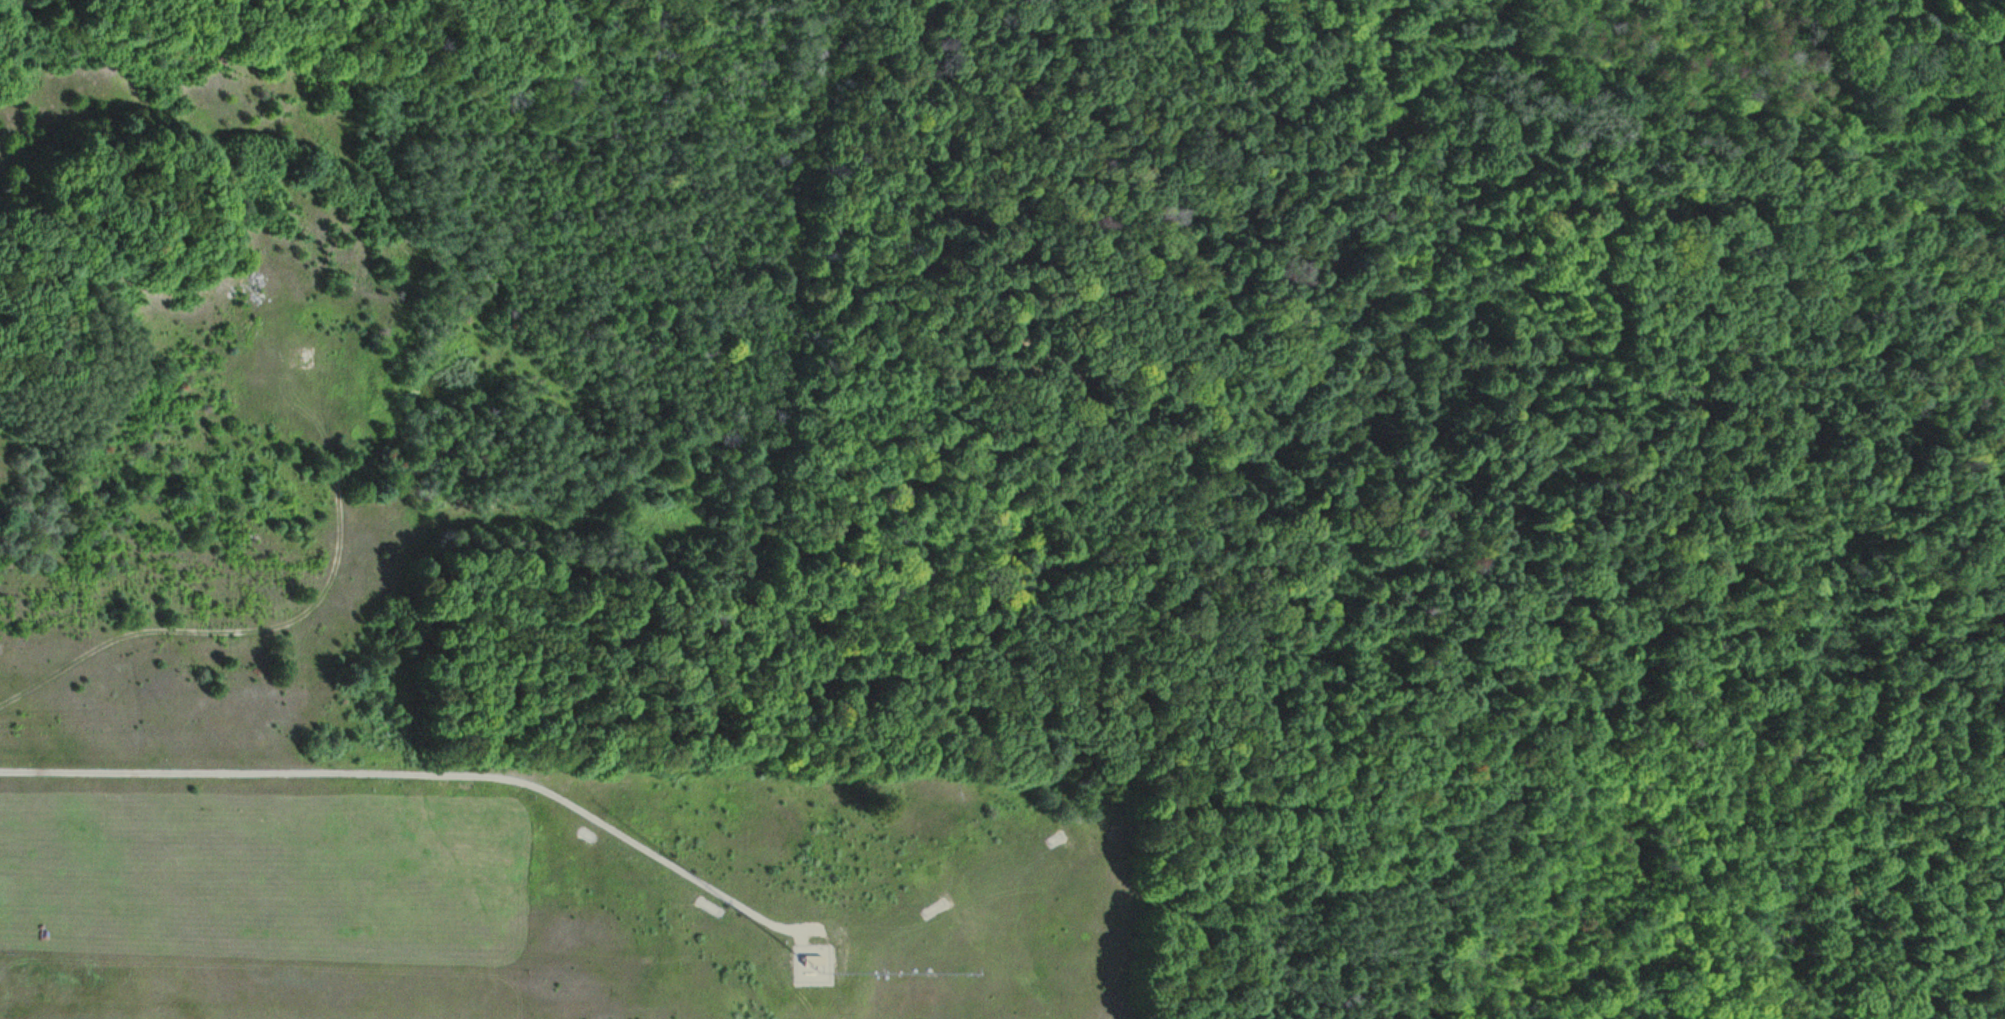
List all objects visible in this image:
road: (416, 781)

